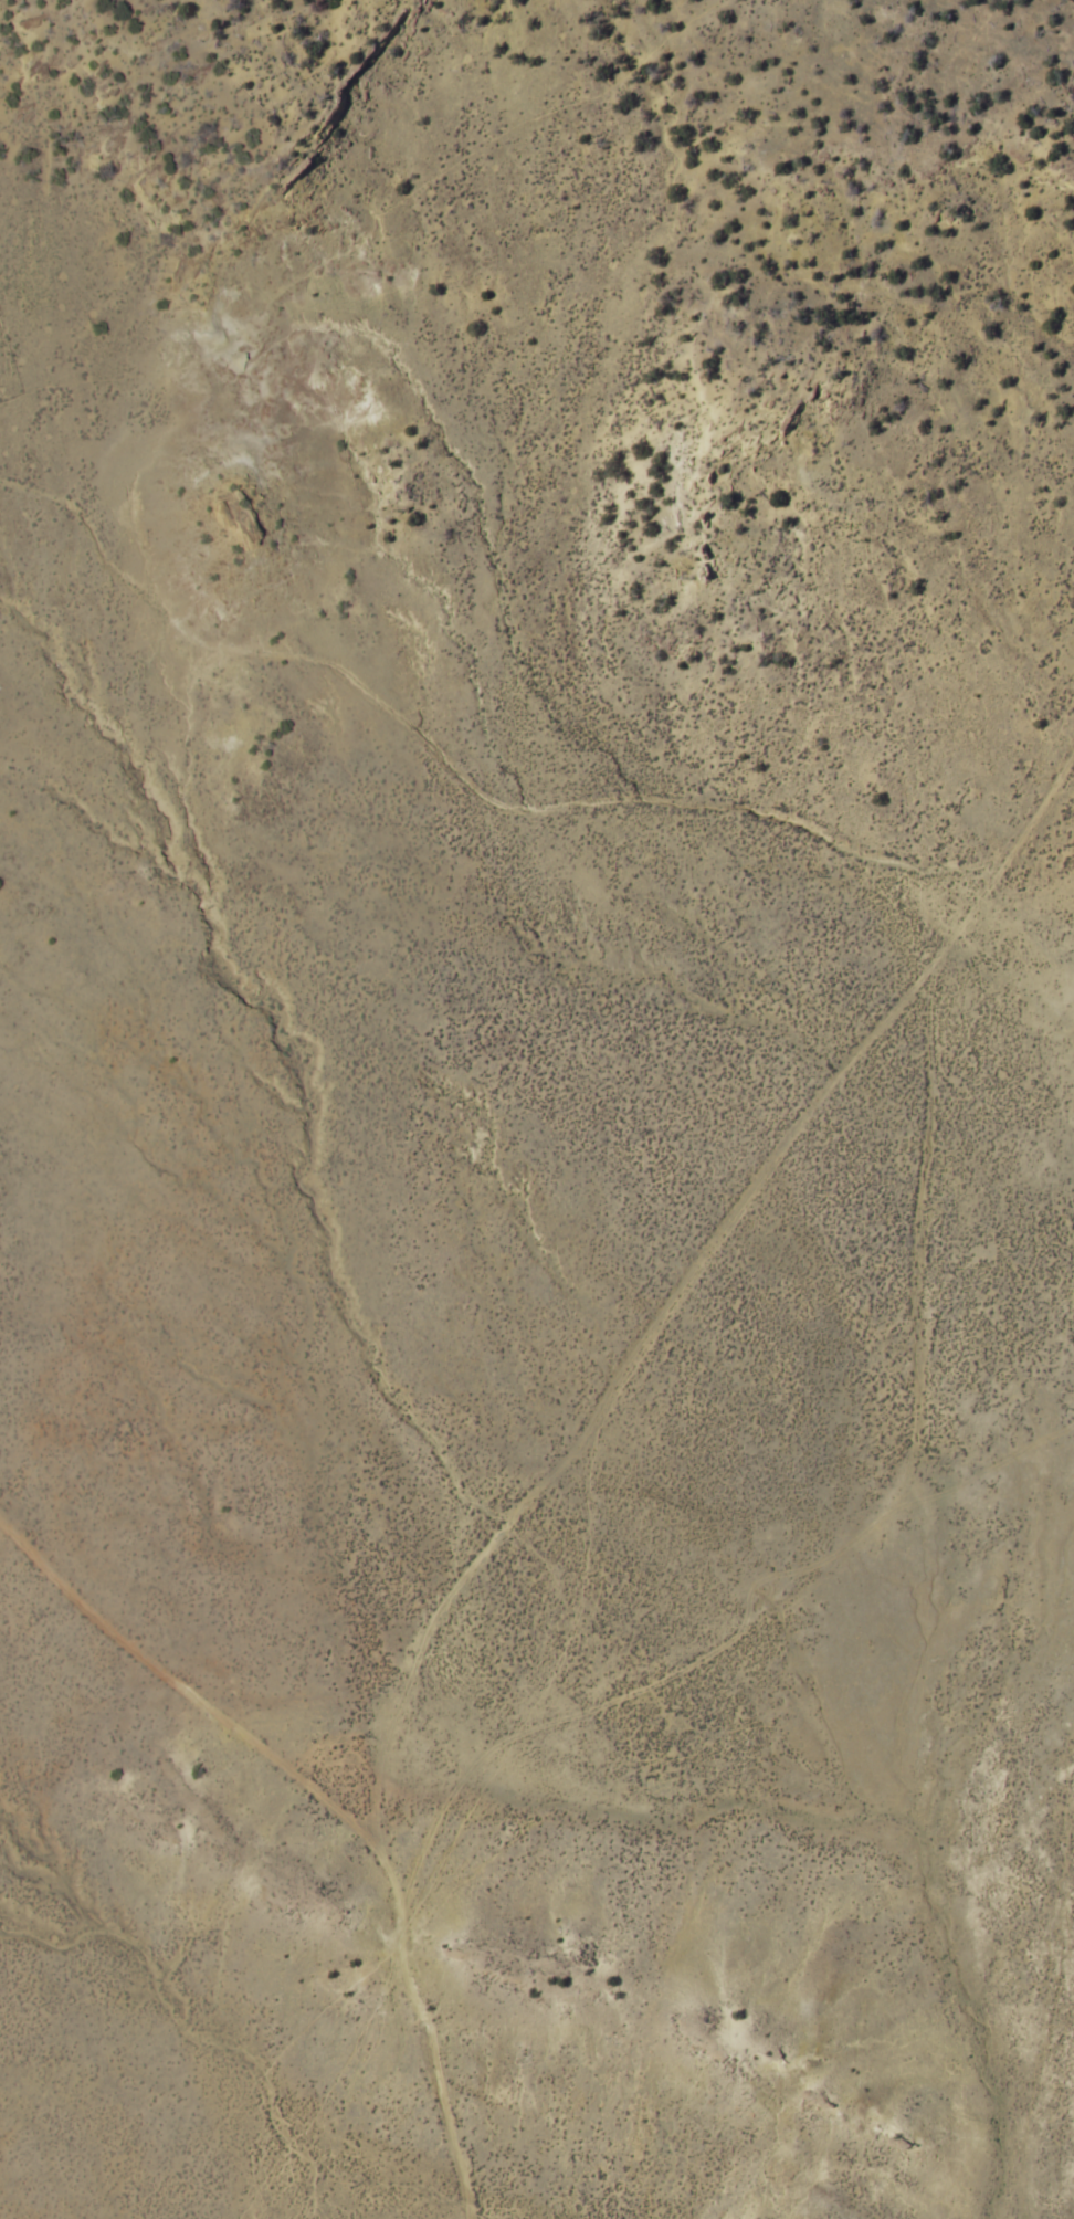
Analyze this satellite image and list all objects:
road: (461, 769)
road: (949, 1375)
road: (350, 1756)

